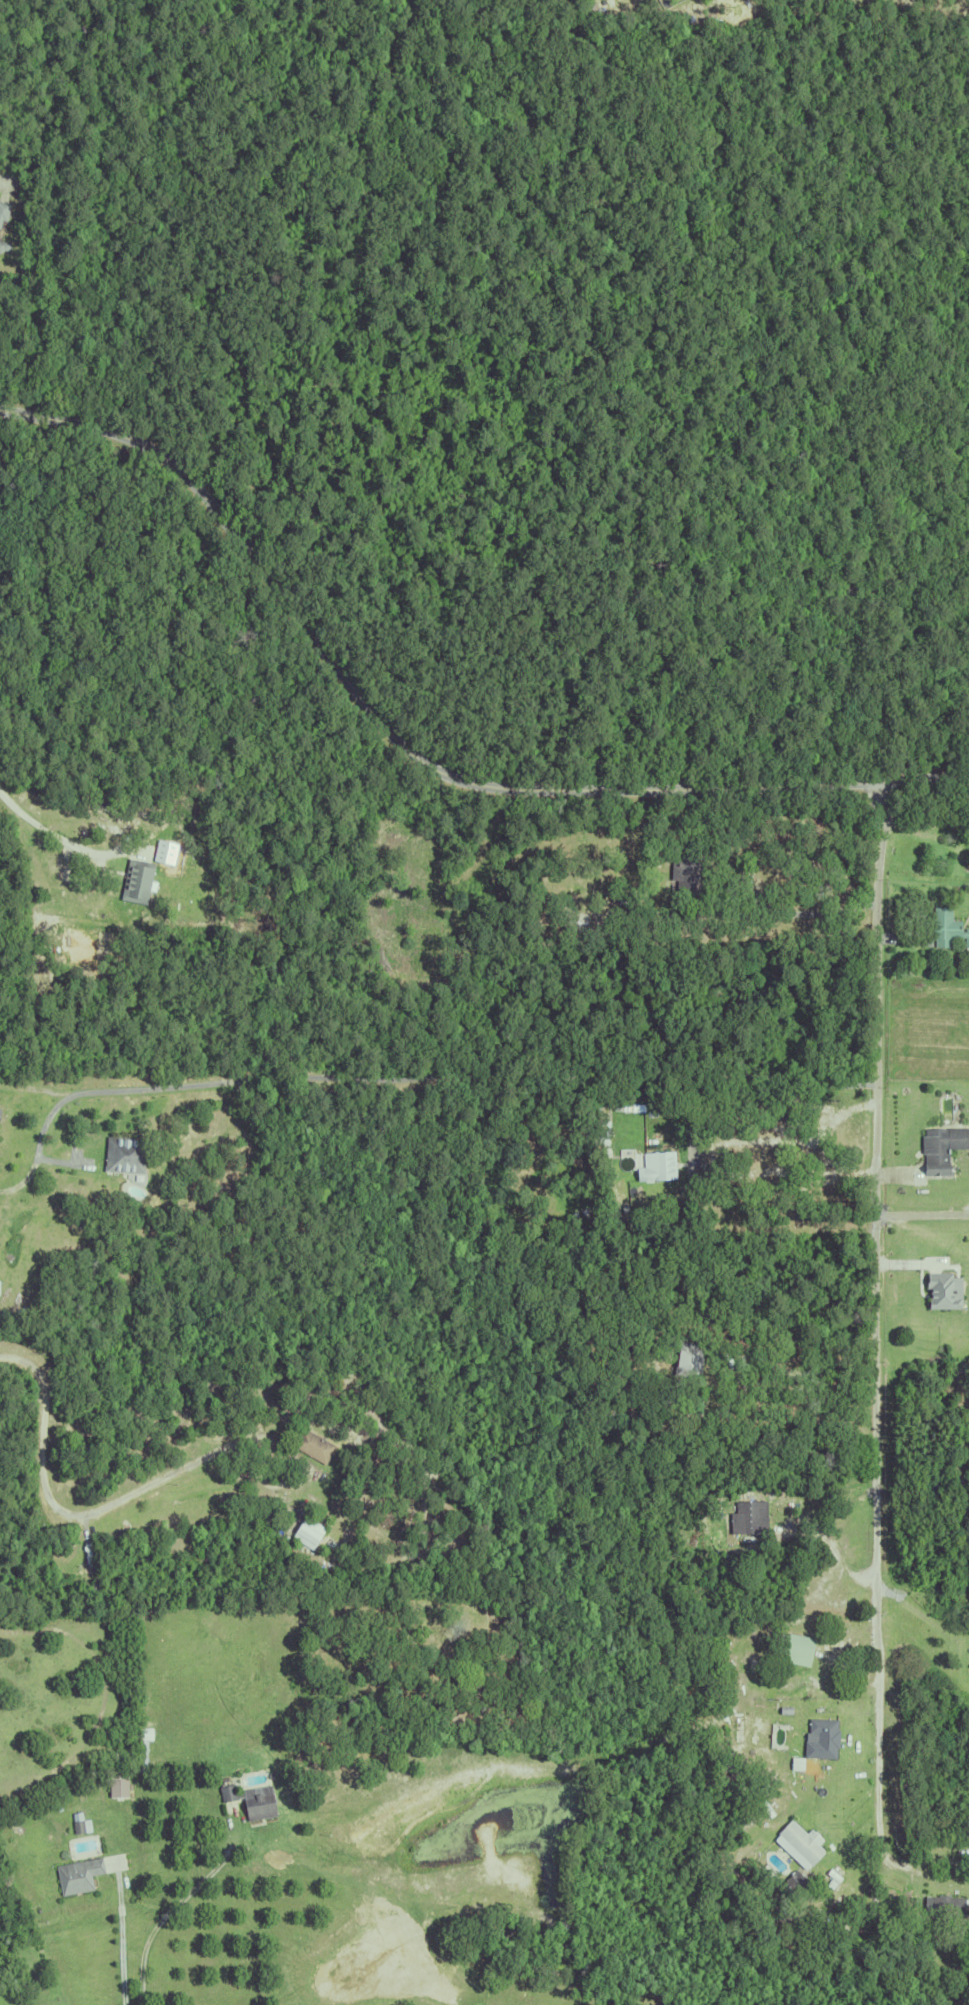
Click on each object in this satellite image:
building: (810, 4)
building: (3, 208)
building: (3, 244)
road: (413, 758)
road: (36, 822)
building: (653, 837)
building: (136, 874)
building: (687, 875)
road: (806, 914)
building: (945, 927)
road: (409, 1076)
building: (599, 1138)
building: (938, 1149)
building: (123, 1155)
building: (689, 1159)
building: (655, 1166)
building: (601, 1186)
road: (774, 1192)
road: (921, 1217)
building: (942, 1290)
road: (876, 1314)
building: (687, 1359)
building: (642, 1388)
building: (313, 1447)
road: (93, 1510)
building: (747, 1518)
building: (304, 1534)
road: (836, 1545)
building: (87, 1558)
road: (916, 1609)
building: (797, 1650)
building: (967, 1665)
building: (783, 1711)
building: (749, 1729)
building: (809, 1741)
building: (140, 1756)
building: (116, 1789)
building: (225, 1792)
building: (257, 1802)
building: (79, 1824)
building: (797, 1844)
building: (76, 1876)
building: (793, 1883)
building: (2, 1886)
building: (939, 1902)
road: (160, 1917)
road: (120, 1938)

